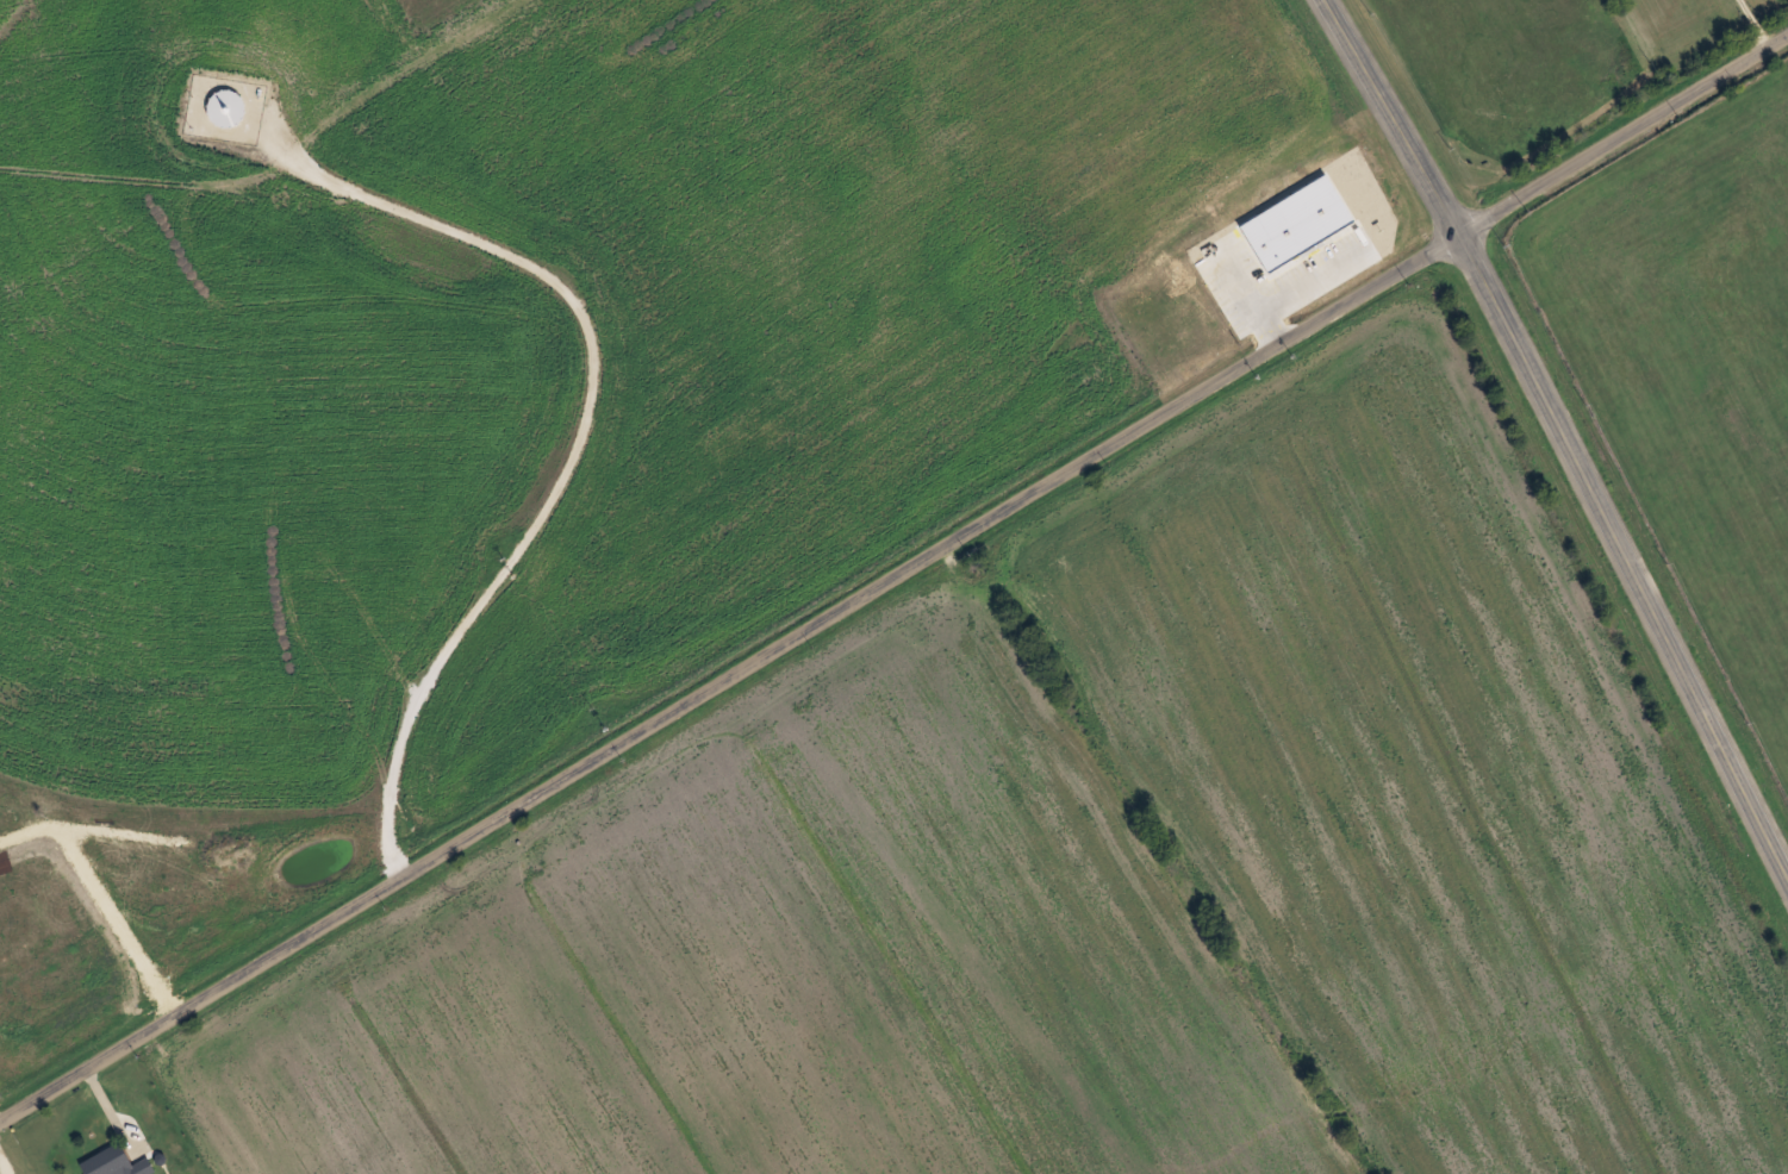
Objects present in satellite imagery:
building: (226, 106)
road: (1564, 433)
road: (893, 589)
building: (116, 1162)

